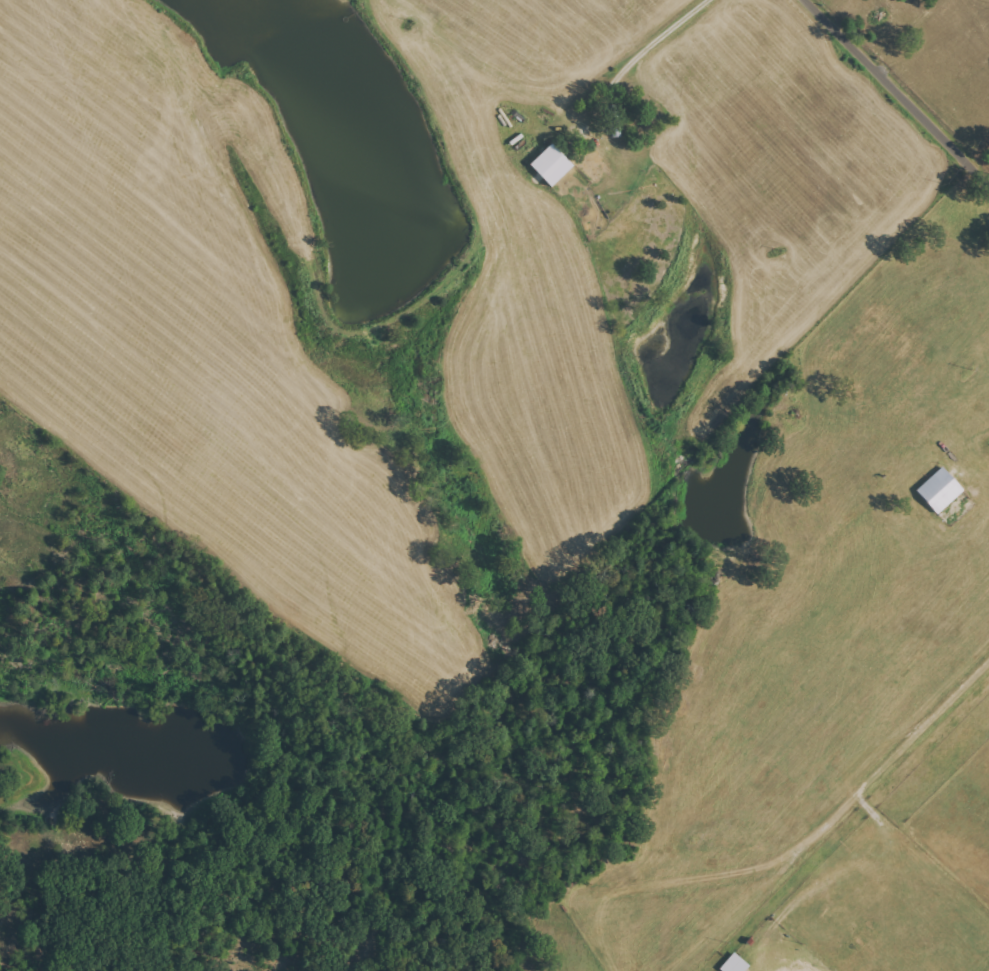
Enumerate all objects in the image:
road: (885, 106)
building: (551, 164)
building: (940, 490)
road: (875, 786)
building: (735, 964)

